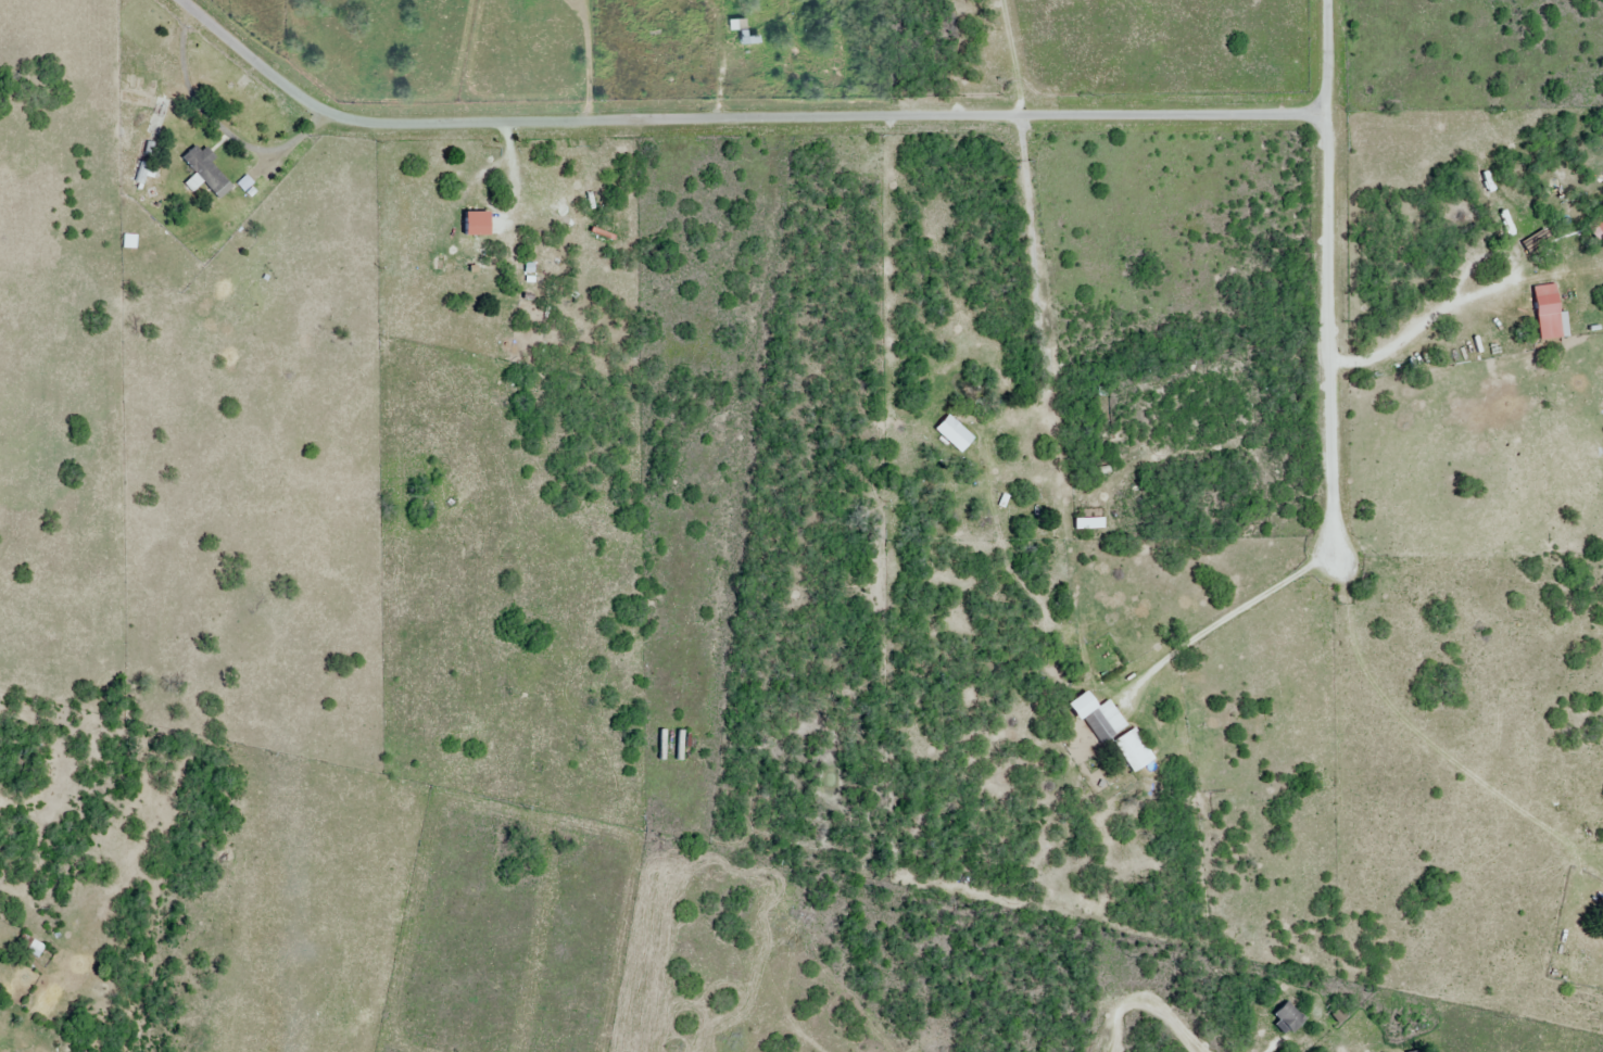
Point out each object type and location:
building: (747, 39)
road: (954, 119)
building: (203, 170)
building: (478, 224)
building: (1537, 242)
building: (1543, 288)
building: (955, 434)
building: (1088, 524)
road: (1224, 619)
building: (1098, 718)
building: (1133, 751)
building: (30, 947)
road: (1144, 1015)
building: (1289, 1017)
building: (1417, 1051)

